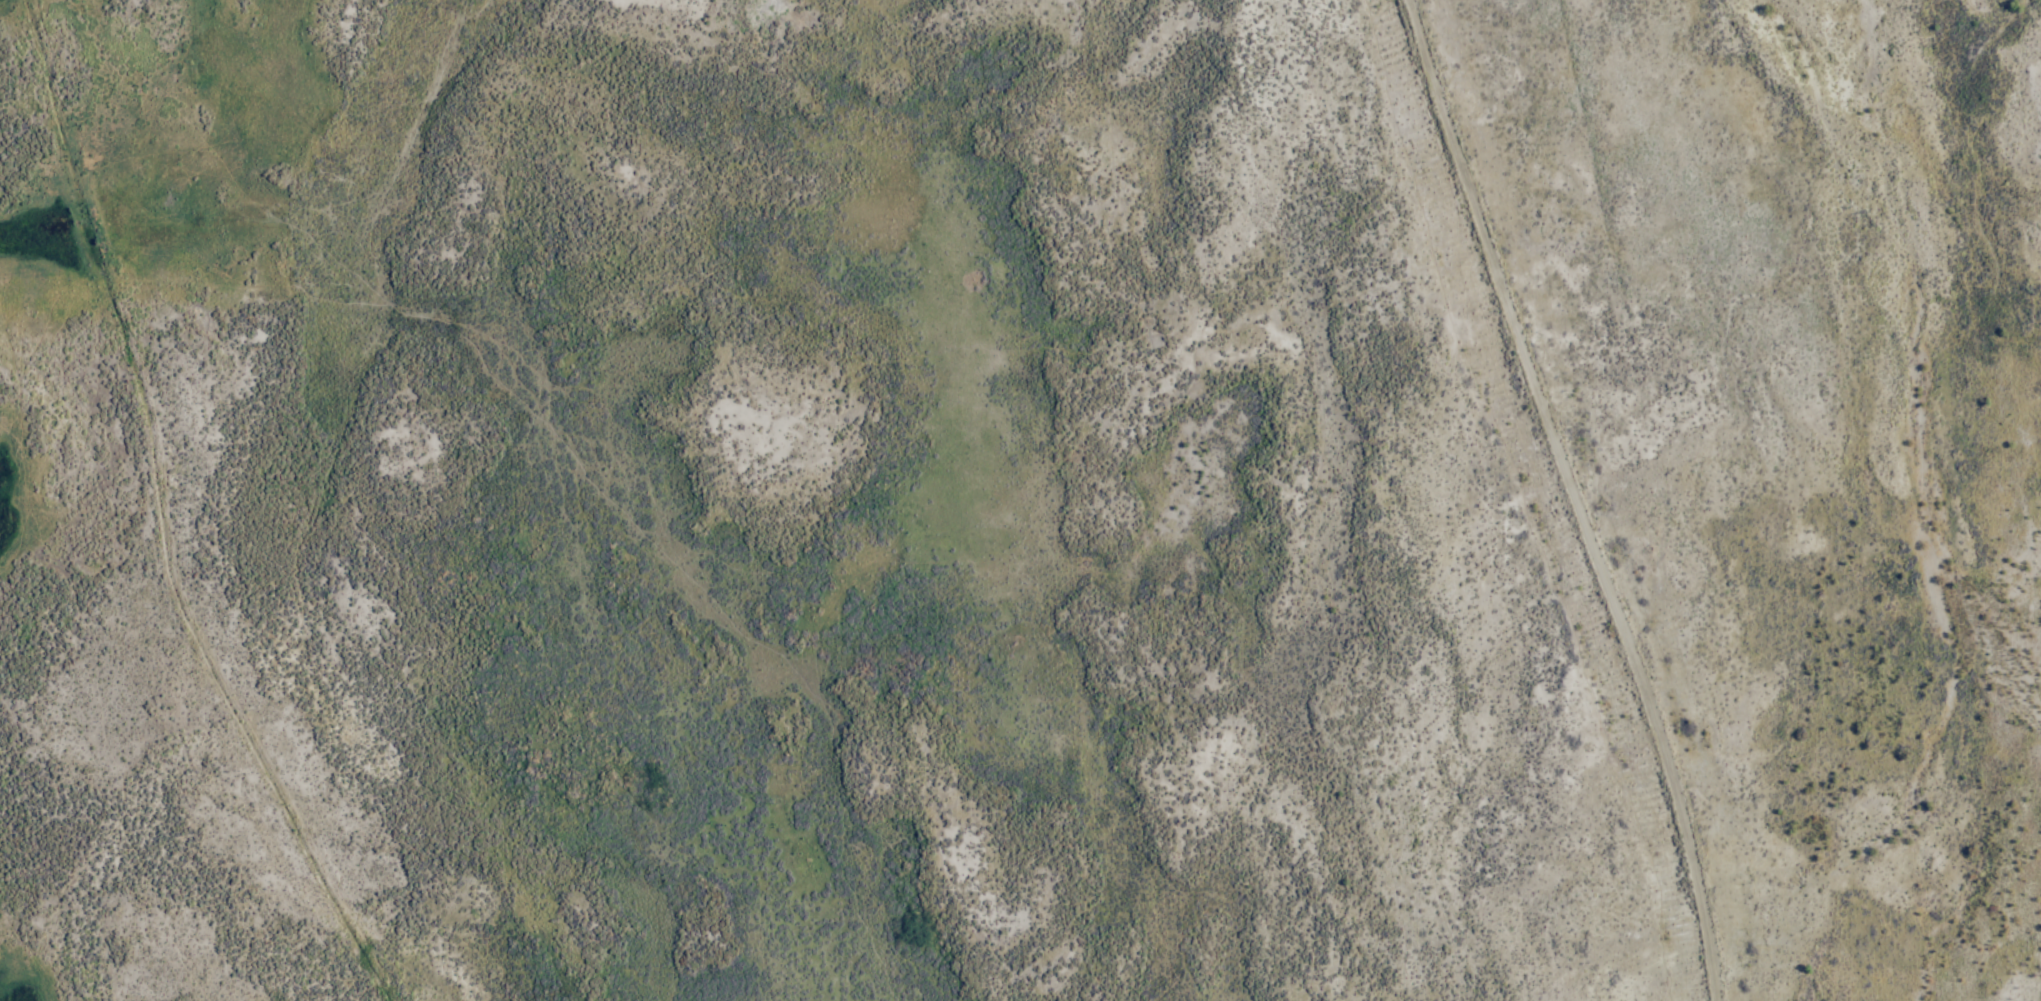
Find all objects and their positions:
road: (1558, 497)

